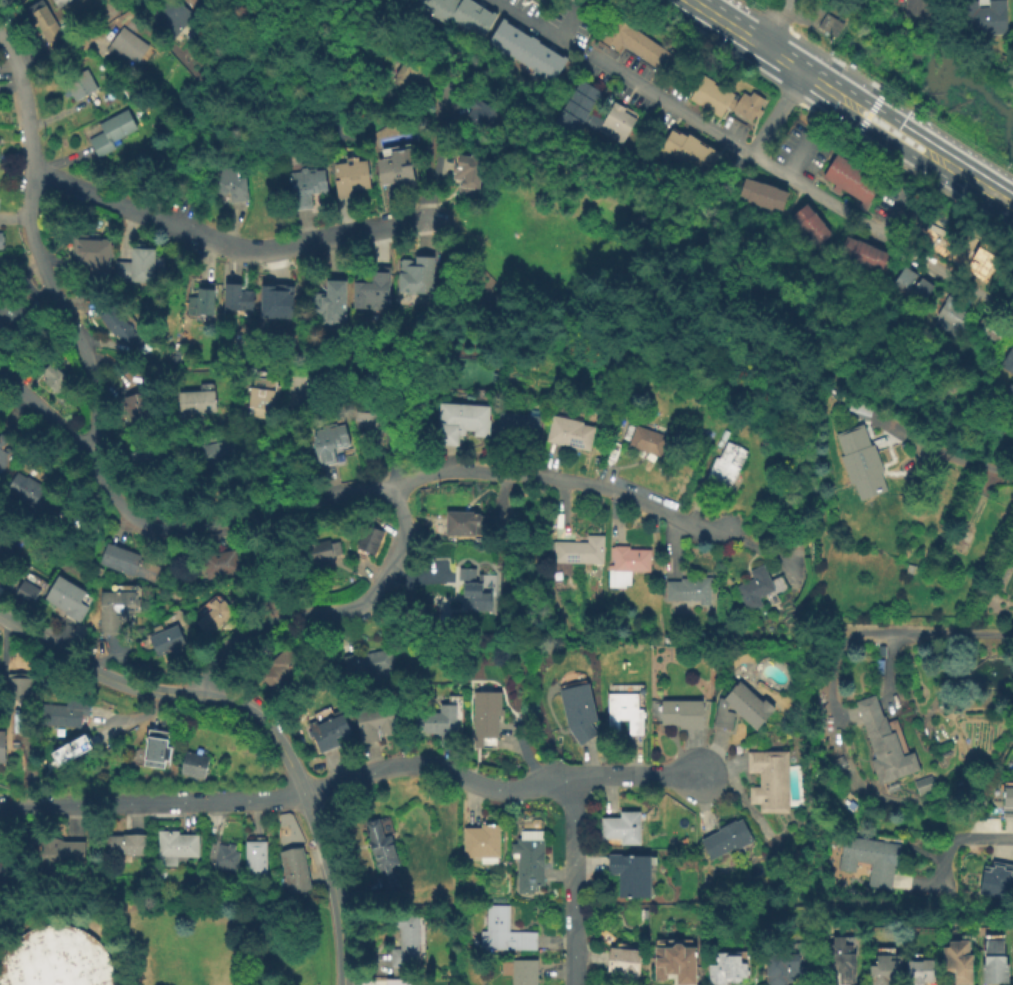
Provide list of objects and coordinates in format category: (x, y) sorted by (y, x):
building: (541, 0)
building: (59, 3)
road: (742, 8)
building: (916, 9)
building: (457, 13)
building: (982, 17)
building: (171, 18)
road: (725, 23)
road: (774, 23)
building: (42, 24)
road: (771, 26)
building: (829, 26)
road: (535, 28)
road: (77, 42)
building: (635, 44)
building: (124, 47)
building: (524, 49)
road: (782, 59)
building: (410, 76)
building: (78, 85)
road: (11, 88)
road: (837, 94)
building: (723, 100)
road: (25, 101)
road: (899, 107)
building: (573, 114)
road: (776, 114)
building: (481, 117)
building: (385, 129)
building: (110, 133)
road: (790, 152)
building: (687, 155)
road: (428, 156)
road: (436, 159)
road: (942, 161)
building: (393, 171)
building: (465, 174)
building: (349, 177)
building: (850, 181)
building: (229, 185)
road: (798, 185)
building: (305, 188)
building: (761, 196)
building: (810, 226)
building: (0, 243)
road: (232, 246)
building: (980, 246)
building: (860, 255)
building: (91, 256)
building: (135, 265)
building: (414, 275)
building: (910, 289)
building: (371, 292)
building: (200, 300)
building: (237, 300)
building: (274, 302)
building: (327, 304)
building: (10, 315)
road: (65, 317)
building: (947, 318)
building: (120, 327)
building: (989, 331)
building: (1007, 363)
building: (55, 386)
building: (409, 393)
building: (260, 397)
building: (1007, 399)
building: (195, 403)
building: (861, 408)
building: (135, 409)
building: (529, 411)
building: (459, 423)
building: (370, 425)
building: (518, 432)
building: (568, 432)
building: (646, 442)
building: (329, 444)
road: (952, 447)
road: (301, 451)
building: (2, 455)
building: (220, 457)
building: (144, 462)
building: (859, 464)
building: (724, 465)
road: (179, 474)
building: (23, 491)
road: (335, 497)
building: (48, 515)
building: (463, 526)
building: (983, 528)
building: (367, 541)
building: (0, 543)
building: (3, 553)
building: (319, 553)
building: (578, 553)
building: (127, 564)
building: (623, 565)
building: (219, 566)
building: (758, 588)
building: (688, 591)
building: (472, 593)
building: (25, 594)
building: (65, 600)
building: (114, 611)
road: (331, 612)
building: (209, 618)
building: (165, 642)
road: (836, 655)
building: (365, 664)
road: (889, 668)
building: (278, 672)
road: (97, 674)
building: (16, 685)
building: (880, 685)
building: (739, 709)
road: (159, 710)
building: (576, 711)
building: (623, 713)
building: (63, 714)
building: (680, 714)
building: (484, 719)
building: (375, 722)
building: (438, 723)
building: (895, 731)
building: (327, 734)
building: (883, 744)
building: (1, 749)
building: (70, 749)
building: (154, 751)
road: (532, 757)
building: (79, 758)
building: (841, 762)
building: (193, 767)
road: (352, 780)
building: (768, 782)
building: (922, 785)
building: (1007, 804)
road: (160, 813)
road: (313, 817)
building: (621, 829)
building: (725, 839)
road: (961, 839)
building: (480, 844)
building: (123, 846)
building: (174, 848)
building: (60, 854)
building: (380, 854)
building: (253, 858)
building: (224, 859)
building: (868, 860)
building: (527, 862)
building: (4, 870)
building: (292, 871)
building: (629, 876)
road: (571, 882)
building: (997, 882)
building: (502, 934)
building: (403, 943)
building: (54, 958)
building: (839, 959)
building: (957, 962)
building: (995, 962)
building: (622, 964)
building: (673, 965)
building: (778, 967)
building: (728, 969)
building: (884, 971)
building: (522, 973)
building: (919, 973)
water tower: (54, 982)
building: (393, 983)

